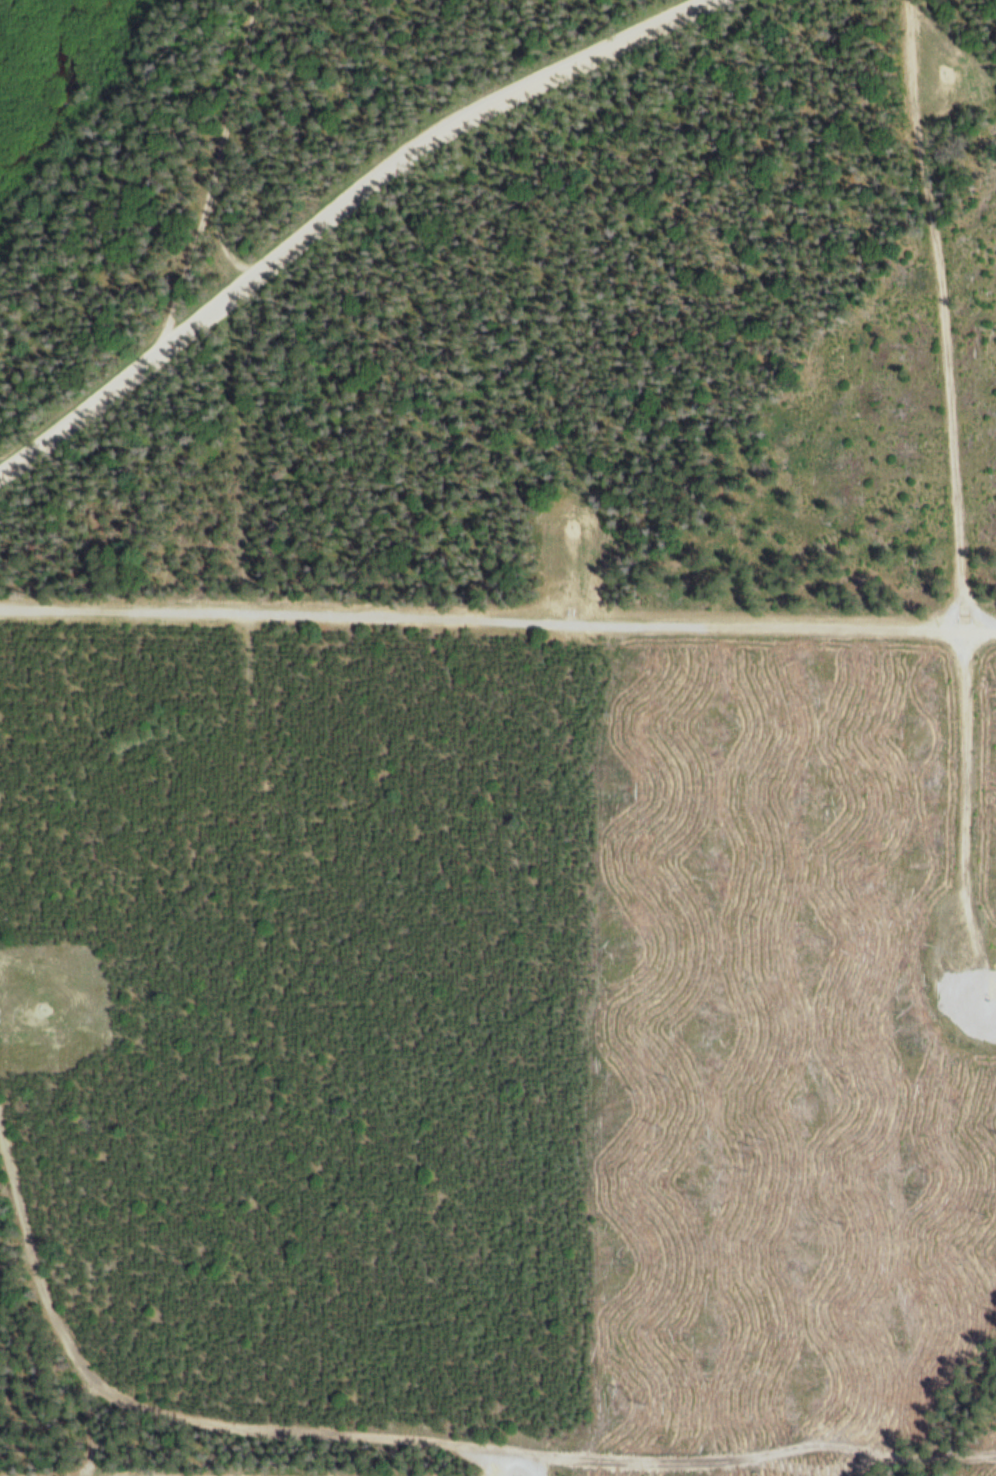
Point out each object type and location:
road: (213, 145)
road: (335, 206)
road: (951, 487)
road: (497, 617)
road: (168, 1414)

